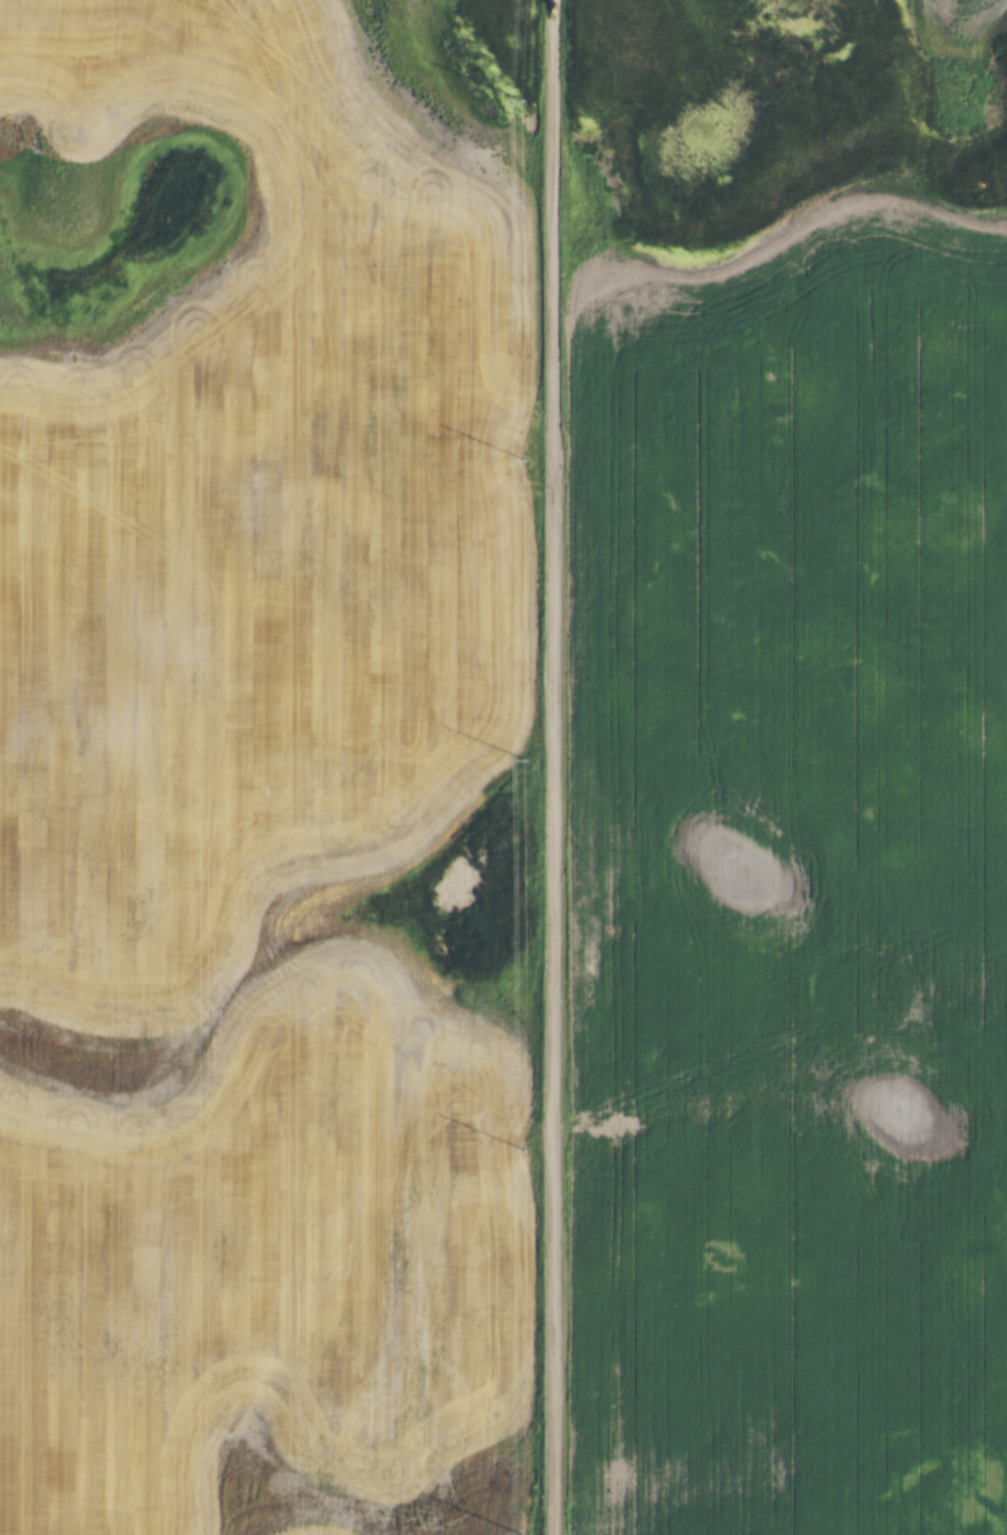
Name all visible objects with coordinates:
road: (552, 767)

